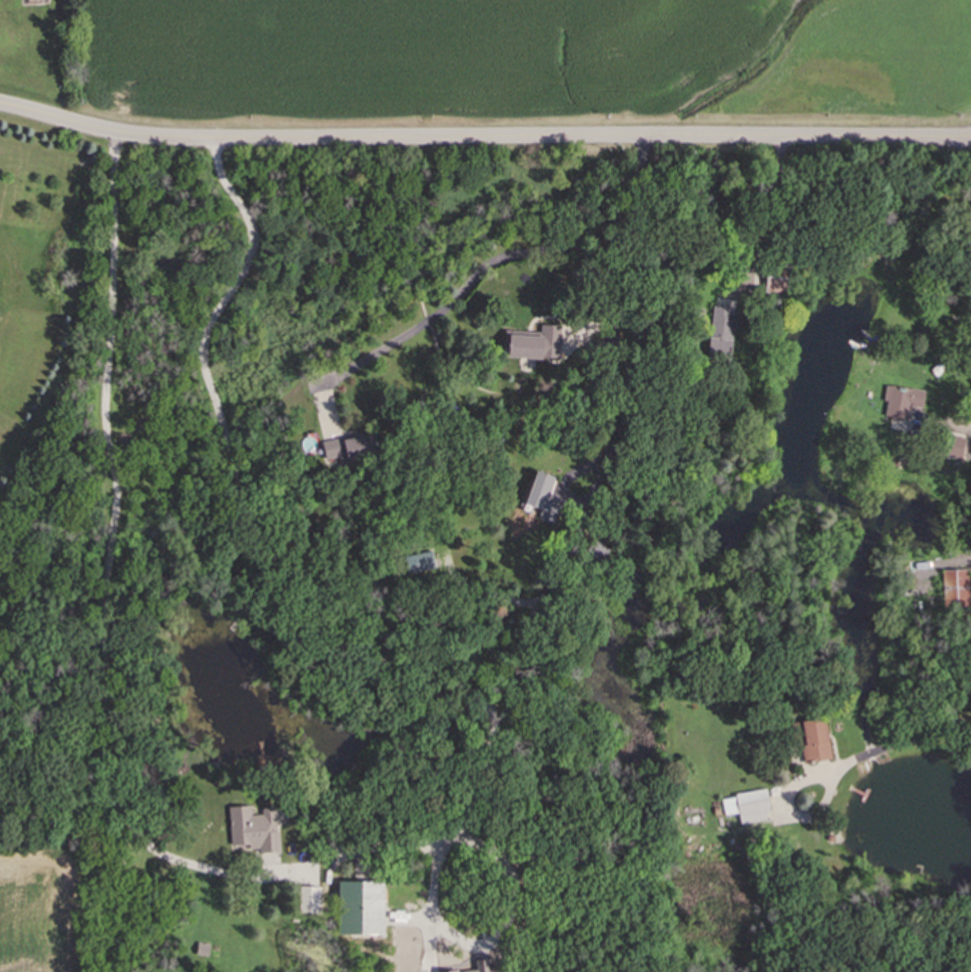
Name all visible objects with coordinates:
road: (963, 130)
road: (476, 137)
road: (496, 257)
building: (778, 287)
building: (722, 335)
building: (537, 346)
building: (913, 400)
building: (954, 448)
building: (350, 450)
building: (541, 493)
building: (421, 564)
building: (956, 590)
road: (102, 671)
building: (816, 742)
road: (881, 746)
building: (747, 805)
building: (254, 831)
building: (311, 901)

